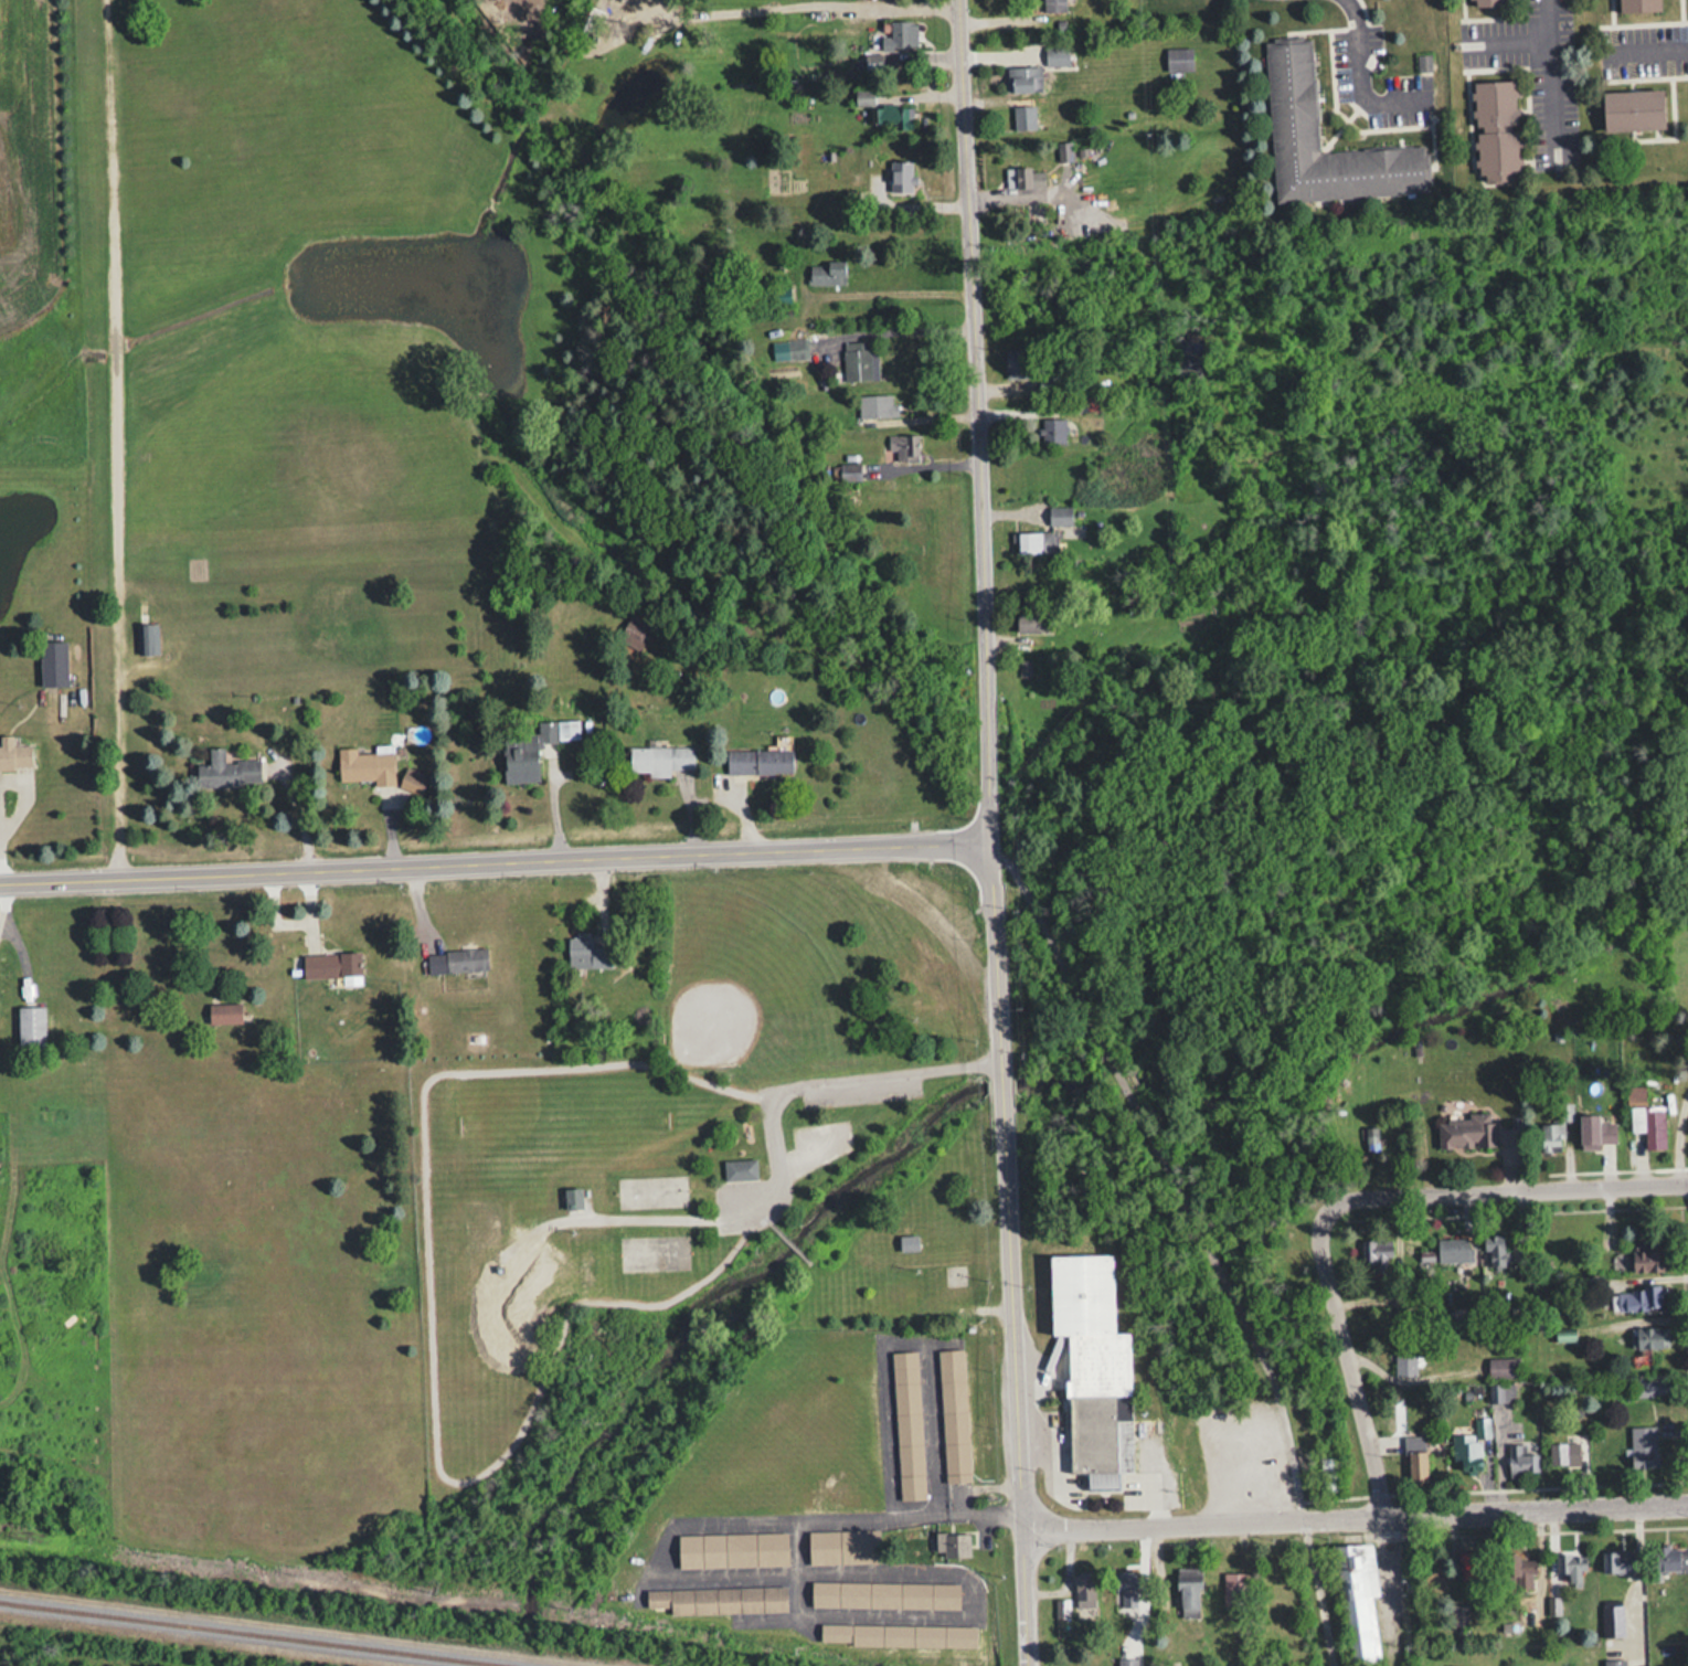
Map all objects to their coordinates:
building: (1485, 2)
building: (1637, 4)
building: (1053, 6)
road: (866, 12)
building: (898, 34)
road: (1505, 41)
road: (1647, 46)
building: (1055, 54)
building: (1178, 59)
building: (875, 61)
road: (1550, 75)
building: (1023, 77)
road: (1363, 77)
building: (1291, 92)
building: (1632, 109)
building: (884, 112)
building: (1023, 116)
building: (1495, 129)
building: (900, 177)
building: (1027, 177)
building: (826, 273)
road: (884, 287)
building: (781, 295)
road: (883, 325)
building: (789, 349)
building: (859, 361)
building: (1018, 367)
building: (1079, 403)
building: (877, 405)
building: (1052, 431)
road: (113, 437)
building: (903, 447)
building: (1059, 516)
road: (974, 517)
building: (1033, 542)
building: (1026, 623)
building: (635, 630)
building: (147, 638)
building: (52, 662)
building: (1023, 667)
building: (533, 747)
building: (14, 754)
building: (660, 757)
building: (761, 758)
building: (364, 766)
building: (226, 771)
building: (412, 779)
road: (934, 809)
road: (888, 845)
road: (395, 863)
road: (923, 908)
building: (585, 953)
building: (456, 961)
building: (331, 967)
park: (746, 979)
building: (223, 1014)
building: (30, 1026)
road: (811, 1083)
parking lot: (859, 1089)
park: (563, 1122)
building: (1654, 1128)
building: (1596, 1129)
building: (1465, 1132)
building: (1550, 1136)
building: (1370, 1139)
road: (1686, 1147)
building: (739, 1169)
parking lot: (774, 1178)
road: (1497, 1188)
building: (572, 1198)
park: (686, 1209)
building: (907, 1242)
building: (1452, 1250)
building: (1496, 1253)
building: (1378, 1256)
building: (1646, 1260)
building: (1637, 1298)
road: (428, 1318)
building: (1564, 1335)
building: (1648, 1337)
road: (1012, 1349)
building: (1404, 1360)
road: (1349, 1362)
building: (1092, 1366)
building: (1503, 1367)
building: (1649, 1386)
building: (1500, 1393)
building: (954, 1414)
building: (907, 1423)
building: (1469, 1444)
building: (1642, 1447)
building: (1564, 1453)
building: (1414, 1457)
building: (1521, 1462)
building: (1333, 1483)
road: (1355, 1516)
road: (848, 1517)
building: (952, 1541)
building: (842, 1545)
building: (732, 1548)
building: (1666, 1557)
building: (1616, 1560)
building: (1570, 1566)
building: (1467, 1568)
building: (1515, 1571)
building: (1234, 1589)
building: (1187, 1590)
building: (883, 1593)
building: (718, 1599)
building: (1357, 1599)
railway: (257, 1633)
building: (896, 1634)
building: (1613, 1663)

